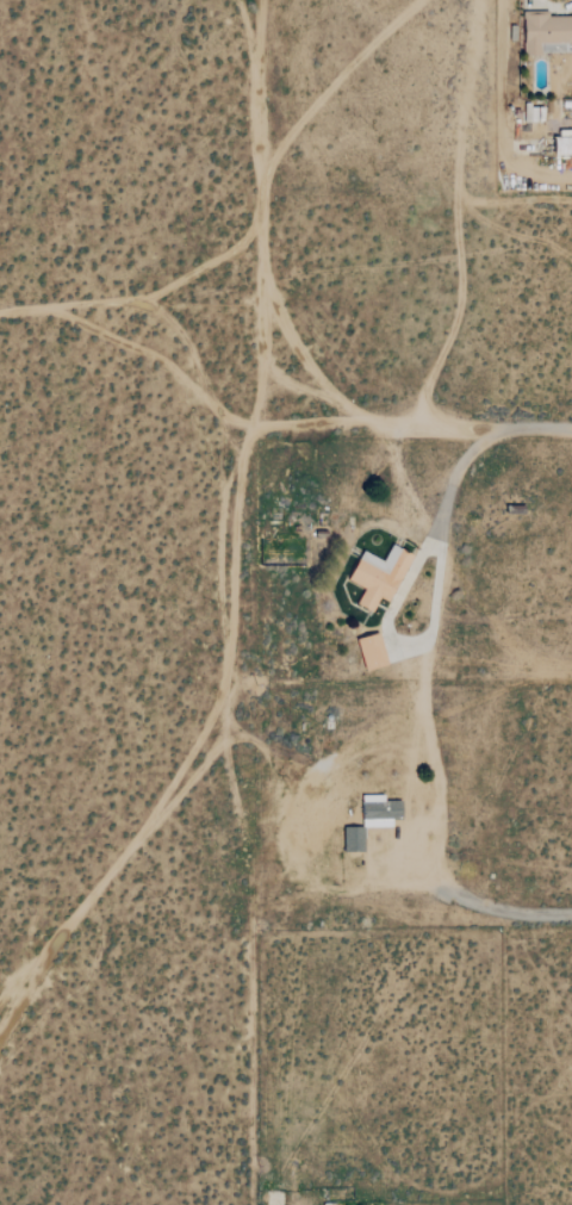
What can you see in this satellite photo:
building: (543, 33)
building: (559, 145)
road: (262, 201)
road: (533, 427)
road: (374, 428)
road: (452, 480)
building: (380, 576)
building: (374, 652)
building: (380, 812)
building: (354, 840)
road: (479, 902)

